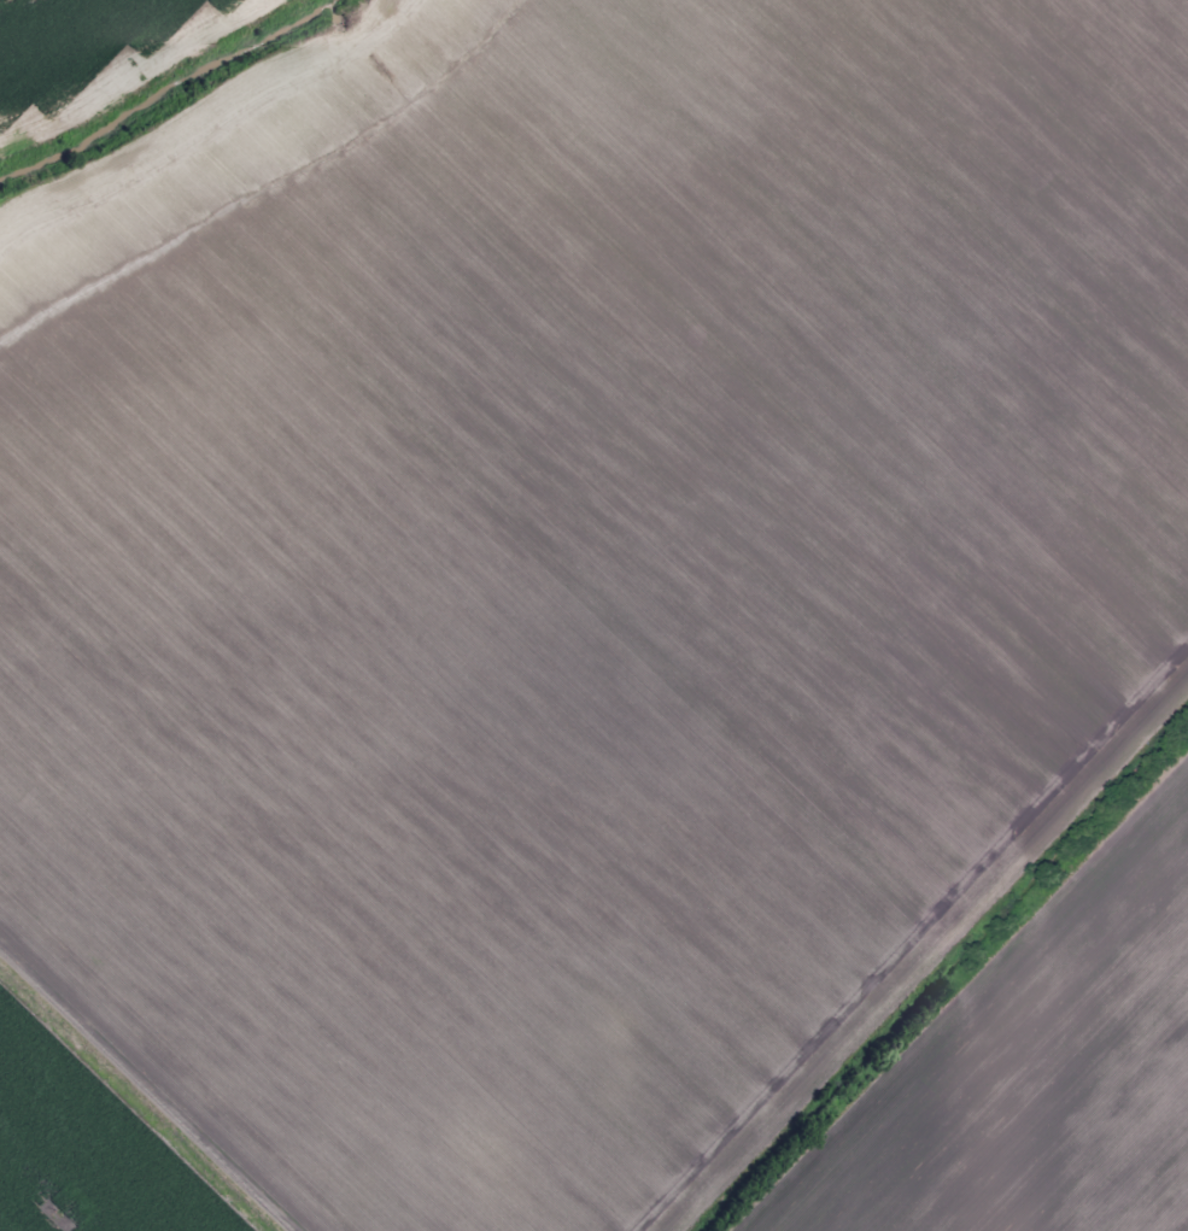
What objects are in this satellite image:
road: (492, 1207)

